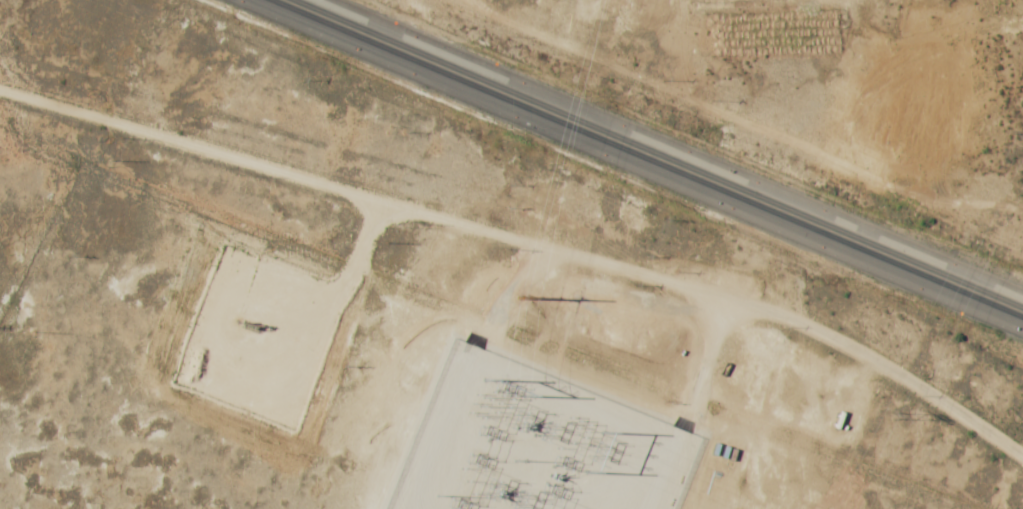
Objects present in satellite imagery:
power tower: (1018, 146)
road: (651, 156)
road: (526, 239)
road: (349, 260)
power tower: (891, 416)

